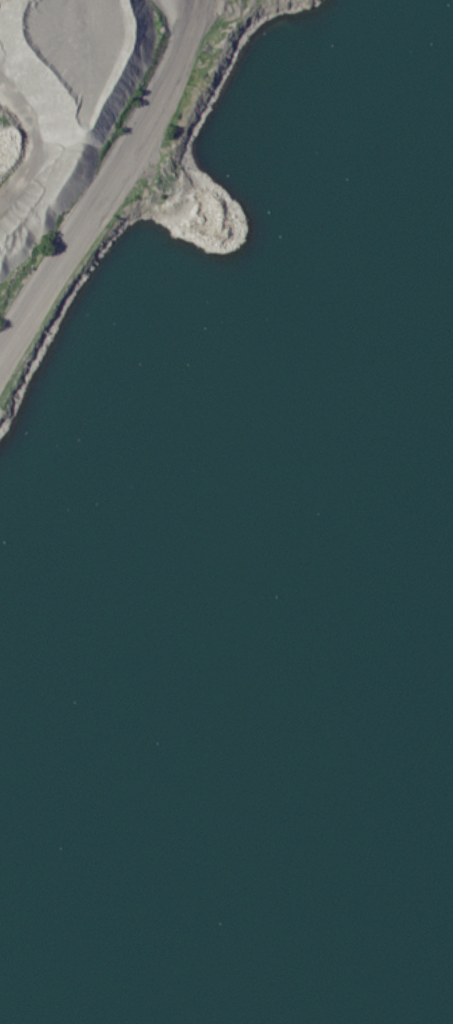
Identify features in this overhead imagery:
road: (110, 186)

